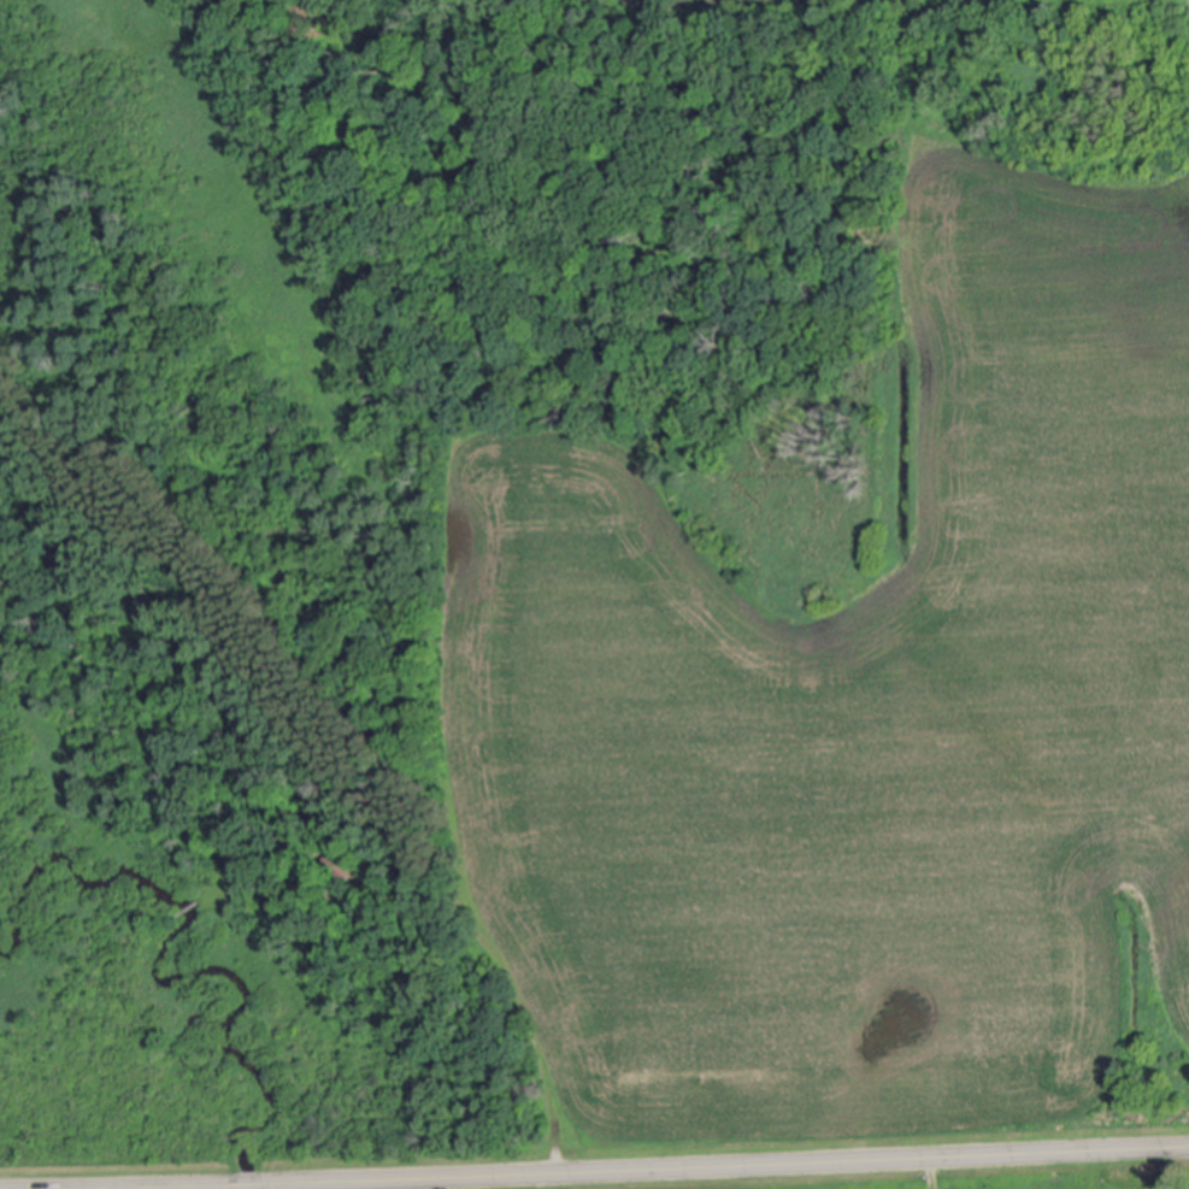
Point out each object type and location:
road: (688, 1171)

